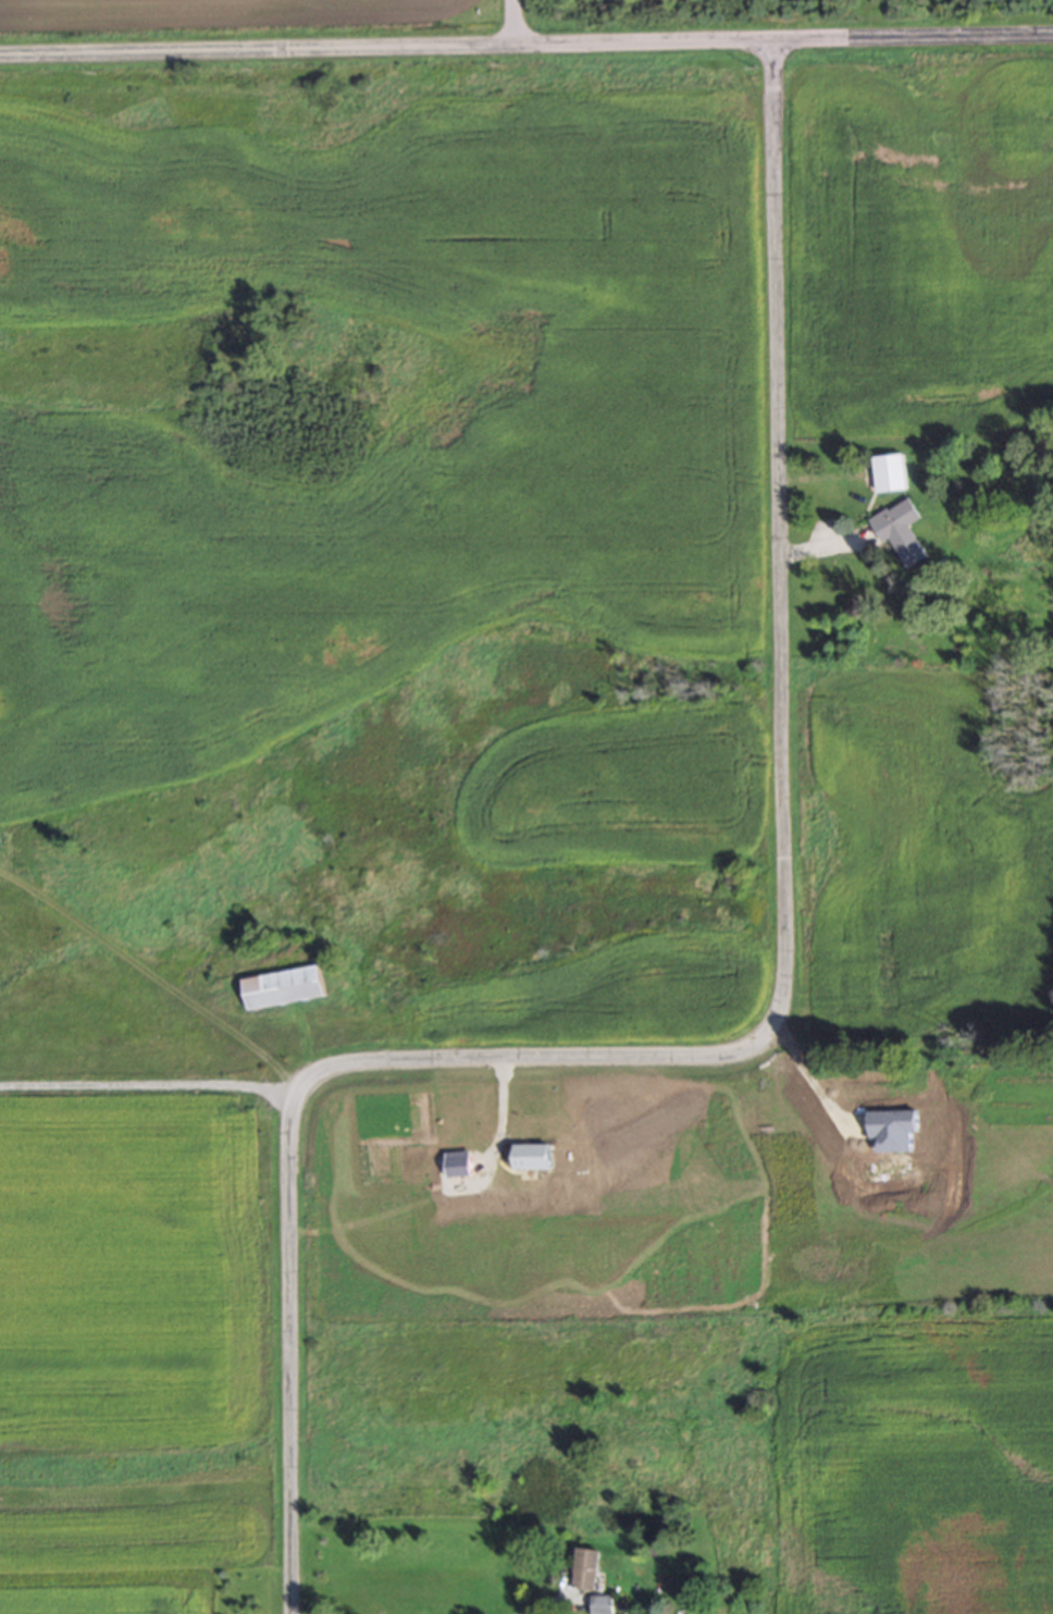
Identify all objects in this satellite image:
road: (518, 16)
road: (525, 34)
building: (889, 471)
building: (900, 530)
building: (283, 986)
road: (761, 1030)
road: (807, 1074)
road: (150, 1083)
building: (584, 1568)
building: (600, 1604)
road: (536, 1605)

